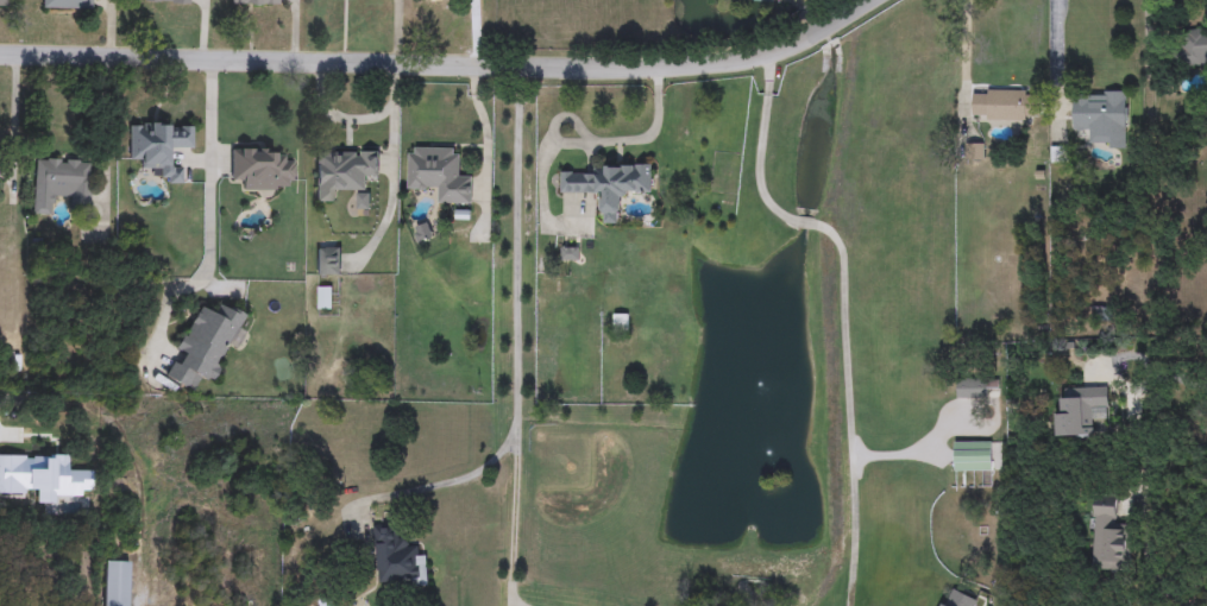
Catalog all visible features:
building: (166, 1)
building: (4, 2)
building: (256, 2)
building: (67, 4)
road: (805, 5)
road: (867, 6)
road: (815, 23)
road: (825, 32)
road: (406, 33)
road: (485, 33)
road: (962, 42)
road: (1057, 50)
building: (1190, 50)
road: (397, 65)
building: (1000, 106)
road: (366, 114)
building: (1099, 115)
road: (646, 133)
building: (158, 145)
building: (262, 169)
building: (344, 172)
building: (439, 175)
building: (61, 183)
building: (609, 187)
road: (401, 189)
road: (212, 207)
building: (328, 261)
building: (564, 261)
road: (843, 308)
building: (621, 326)
road: (514, 337)
building: (206, 343)
road: (1158, 378)
building: (972, 389)
road: (4, 398)
building: (1076, 414)
road: (911, 452)
building: (973, 457)
road: (447, 484)
building: (90, 503)
building: (1109, 537)
building: (397, 558)
road: (1149, 561)
building: (117, 583)
building: (957, 600)

